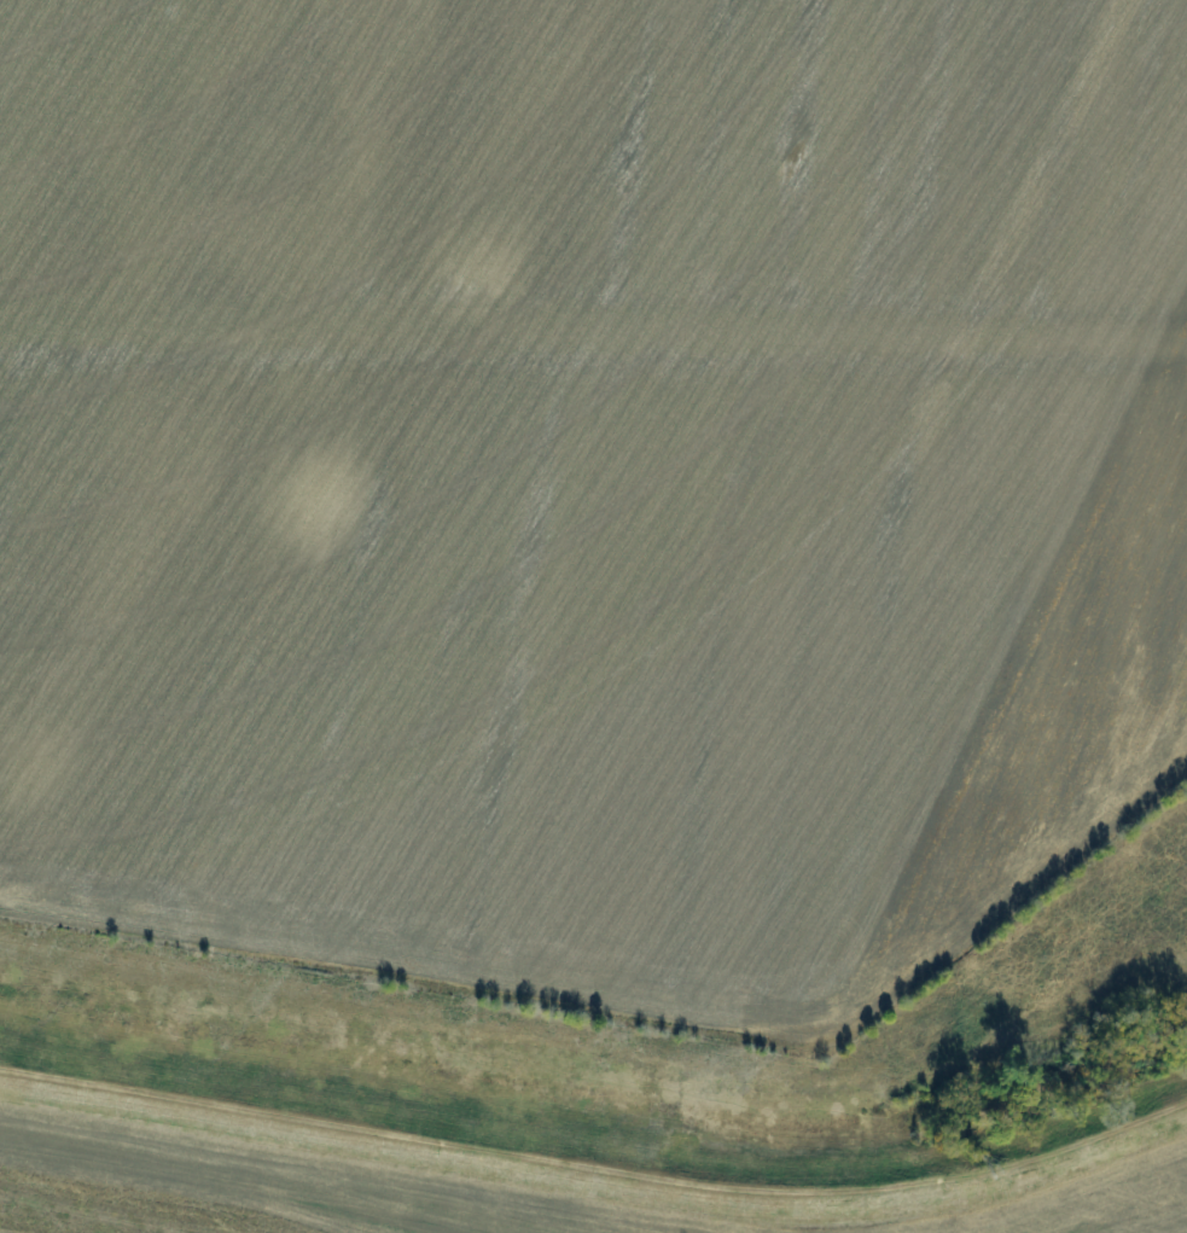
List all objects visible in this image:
road: (599, 1196)

